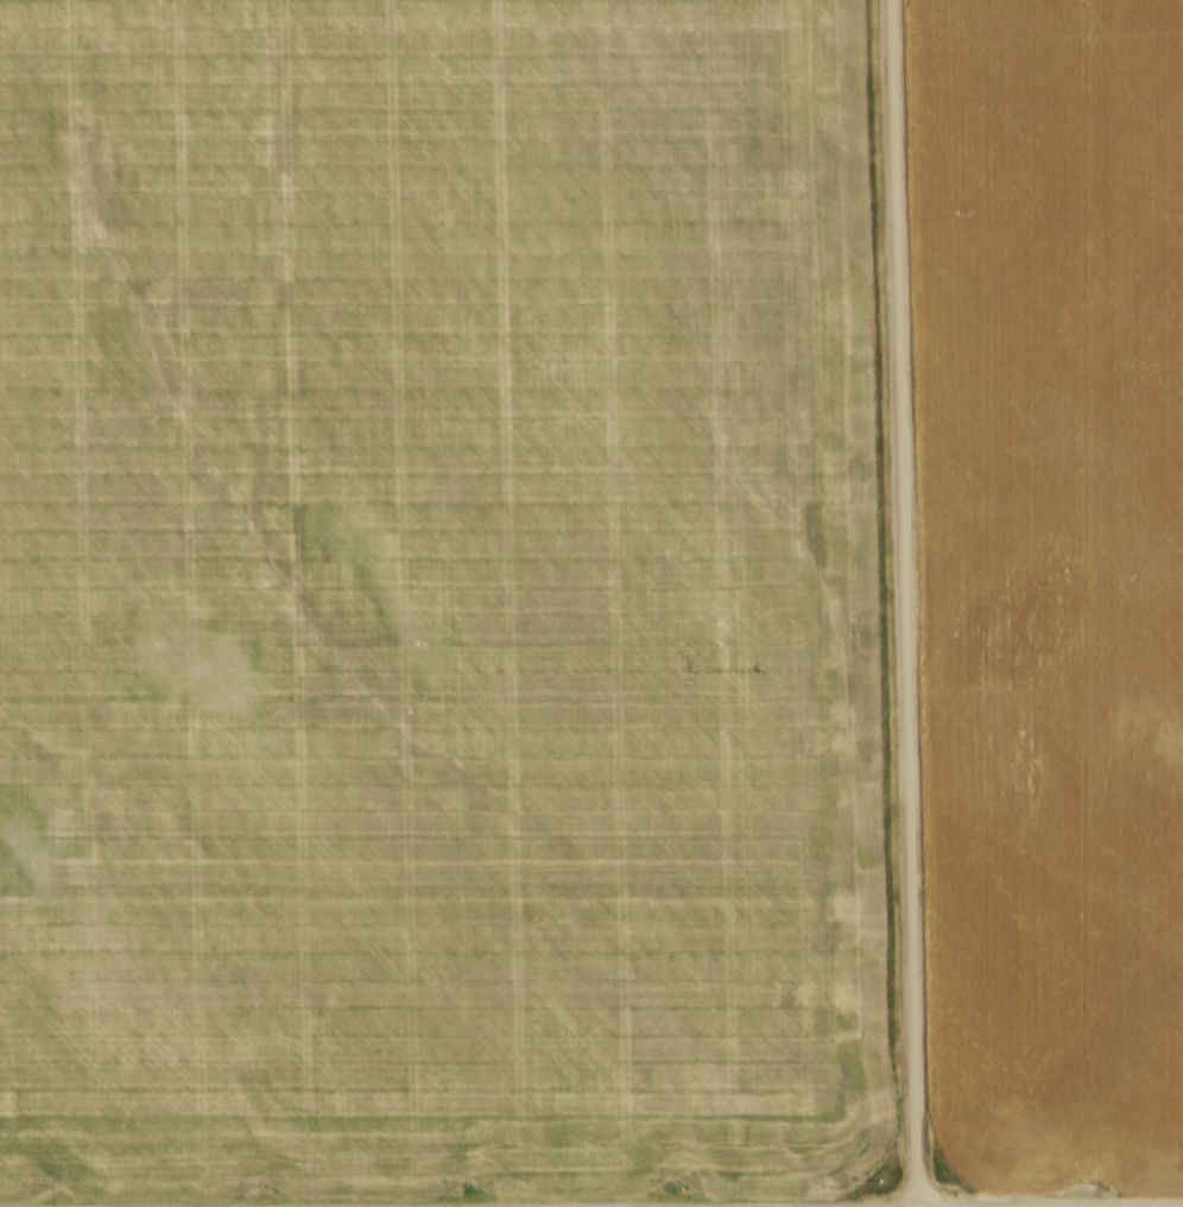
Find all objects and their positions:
crop: (1050, 582)
crop: (436, 595)
road: (896, 603)

